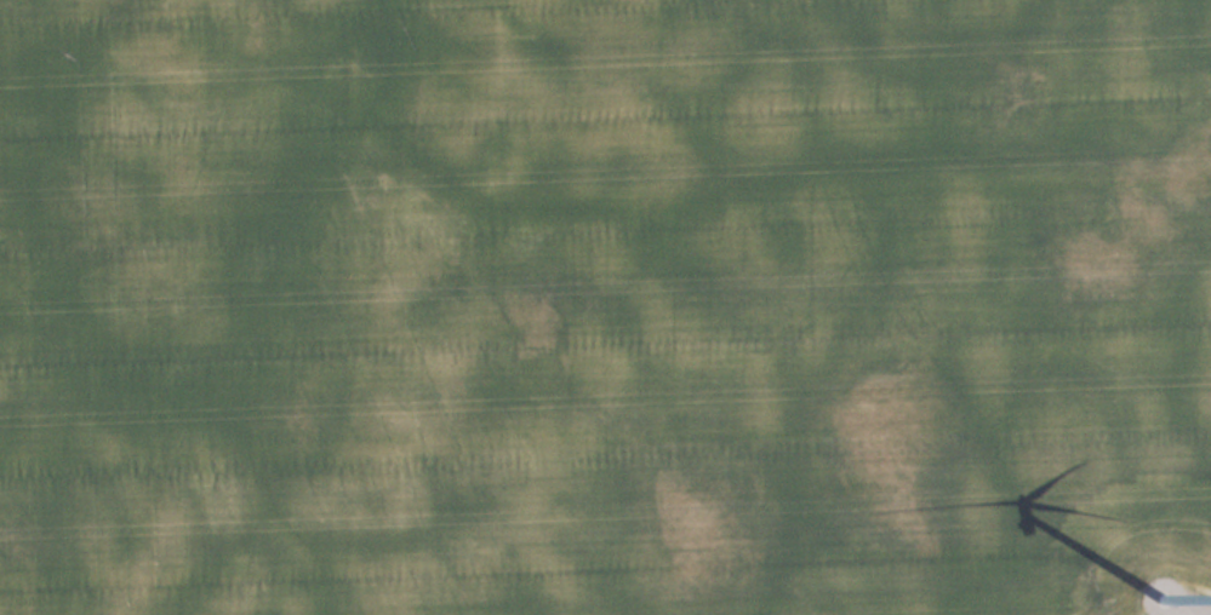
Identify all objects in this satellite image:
wind turbine: (1144, 607)
road: (1204, 611)

